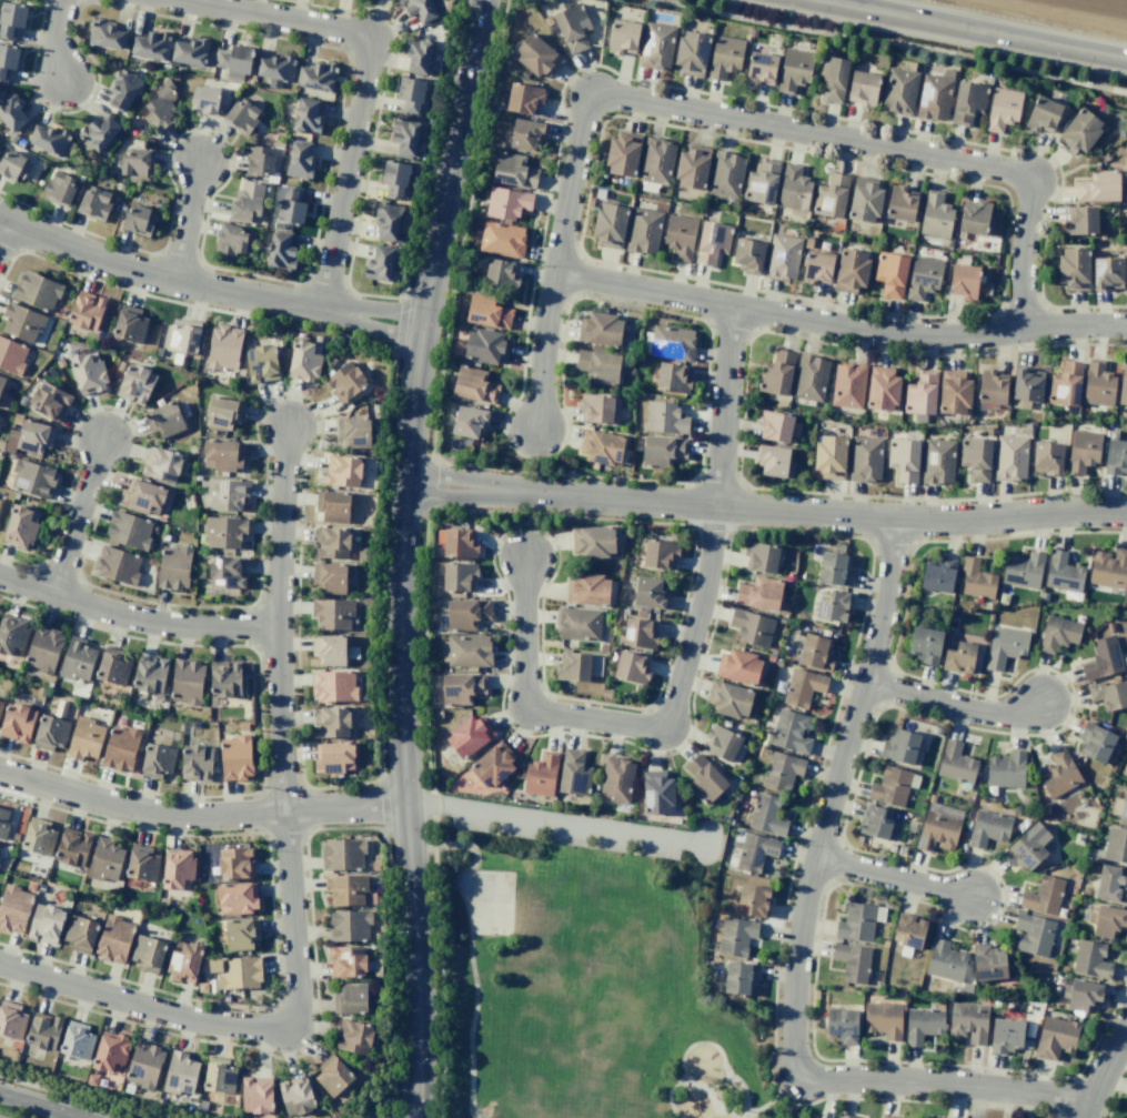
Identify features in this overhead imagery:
road: (320, 6)
crop: (1077, 8)
building: (421, 10)
building: (11, 19)
road: (73, 21)
building: (572, 28)
road: (970, 30)
building: (105, 34)
building: (623, 37)
road: (54, 39)
building: (150, 46)
building: (656, 46)
building: (190, 51)
building: (692, 53)
road: (32, 54)
building: (416, 54)
building: (537, 56)
building: (725, 57)
building: (233, 59)
building: (7, 60)
building: (274, 67)
building: (761, 69)
building: (794, 70)
building: (316, 75)
building: (833, 80)
road: (363, 83)
building: (232, 88)
building: (863, 88)
building: (122, 90)
building: (899, 91)
building: (410, 94)
building: (935, 95)
road: (89, 98)
building: (523, 98)
building: (205, 100)
road: (341, 100)
building: (967, 102)
building: (161, 105)
building: (1003, 109)
building: (11, 111)
building: (1044, 114)
building: (240, 115)
building: (306, 117)
building: (99, 131)
road: (798, 131)
building: (1079, 132)
road: (178, 134)
building: (526, 135)
building: (403, 137)
building: (12, 138)
building: (49, 138)
building: (419, 150)
building: (623, 154)
building: (299, 160)
building: (656, 161)
building: (260, 163)
building: (135, 164)
building: (12, 165)
building: (692, 168)
building: (513, 170)
building: (726, 174)
building: (394, 179)
building: (762, 182)
building: (1098, 187)
building: (794, 188)
building: (59, 189)
road: (213, 191)
building: (832, 195)
building: (865, 200)
building: (245, 201)
building: (93, 203)
building: (506, 203)
building: (900, 203)
building: (289, 204)
building: (936, 215)
building: (974, 218)
building: (138, 220)
building: (386, 221)
building: (1079, 221)
road: (187, 222)
building: (278, 225)
building: (610, 225)
road: (3, 228)
building: (644, 230)
building: (680, 236)
building: (230, 239)
building: (502, 239)
road: (111, 241)
building: (712, 243)
building: (281, 251)
building: (748, 256)
building: (783, 258)
building: (379, 264)
building: (817, 268)
building: (1074, 269)
building: (851, 271)
building: (501, 273)
building: (1107, 273)
building: (890, 274)
building: (924, 276)
road: (168, 280)
building: (964, 281)
building: (36, 290)
road: (365, 294)
road: (373, 310)
building: (85, 311)
building: (486, 311)
building: (21, 321)
road: (409, 323)
building: (129, 324)
road: (371, 325)
road: (838, 326)
building: (600, 329)
building: (182, 338)
building: (316, 339)
road: (382, 345)
building: (485, 346)
building: (222, 348)
road: (546, 349)
building: (157, 351)
building: (11, 355)
building: (303, 360)
building: (329, 361)
building: (261, 362)
building: (59, 363)
building: (598, 366)
building: (88, 373)
building: (777, 373)
building: (672, 377)
building: (811, 377)
building: (1, 382)
building: (343, 382)
building: (1123, 382)
building: (135, 383)
building: (1028, 384)
building: (1066, 384)
building: (1098, 384)
building: (474, 385)
building: (848, 385)
building: (992, 386)
building: (882, 389)
building: (954, 392)
building: (920, 393)
building: (21, 401)
building: (49, 401)
road: (312, 404)
building: (596, 409)
building: (222, 413)
building: (664, 417)
building: (16, 419)
building: (164, 420)
building: (470, 421)
road: (131, 424)
building: (776, 426)
building: (352, 432)
building: (33, 436)
building: (10, 441)
building: (602, 446)
building: (663, 450)
building: (1083, 451)
building: (222, 454)
building: (1116, 456)
building: (828, 457)
building: (1010, 457)
building: (1047, 457)
building: (865, 459)
building: (976, 459)
building: (772, 460)
building: (904, 460)
building: (937, 461)
building: (161, 464)
building: (342, 470)
building: (31, 479)
building: (225, 494)
building: (143, 496)
road: (62, 503)
building: (332, 506)
road: (765, 513)
road: (77, 515)
building: (20, 526)
building: (128, 530)
building: (223, 531)
building: (202, 538)
building: (592, 541)
building: (330, 542)
building: (455, 543)
building: (362, 553)
building: (660, 554)
road: (402, 555)
building: (761, 557)
building: (117, 565)
building: (173, 566)
building: (1108, 568)
building: (835, 570)
building: (1023, 570)
building: (225, 572)
building: (1063, 573)
building: (937, 574)
building: (459, 576)
building: (329, 577)
building: (975, 580)
building: (587, 590)
building: (650, 593)
building: (758, 594)
building: (365, 600)
building: (834, 606)
road: (210, 607)
building: (332, 613)
building: (466, 613)
road: (276, 617)
road: (134, 618)
building: (577, 623)
building: (752, 627)
building: (638, 633)
building: (1058, 633)
building: (11, 635)
building: (925, 645)
building: (1005, 646)
building: (43, 649)
building: (329, 649)
building: (464, 651)
building: (351, 653)
building: (815, 653)
road: (296, 657)
building: (1103, 658)
building: (76, 659)
road: (686, 662)
building: (595, 665)
building: (112, 666)
building: (573, 666)
building: (631, 667)
building: (738, 667)
building: (149, 674)
building: (224, 678)
building: (187, 682)
building: (333, 686)
building: (462, 687)
building: (803, 687)
building: (39, 692)
building: (1108, 695)
building: (729, 699)
building: (0, 704)
road: (954, 708)
building: (330, 721)
building: (18, 722)
building: (119, 722)
road: (260, 722)
building: (243, 726)
building: (51, 728)
building: (791, 732)
building: (470, 735)
building: (84, 738)
building: (721, 743)
building: (1095, 743)
building: (900, 746)
building: (120, 749)
building: (333, 757)
building: (234, 758)
building: (158, 759)
building: (197, 762)
road: (378, 762)
building: (956, 763)
building: (493, 765)
building: (1006, 769)
building: (781, 770)
building: (574, 773)
building: (1058, 773)
building: (540, 775)
building: (704, 778)
building: (616, 780)
building: (890, 786)
building: (656, 793)
road: (381, 805)
road: (423, 805)
building: (1124, 806)
road: (200, 815)
building: (766, 815)
building: (3, 823)
building: (877, 824)
road: (570, 825)
building: (988, 828)
parking lot: (562, 829)
building: (937, 832)
building: (38, 836)
building: (1116, 845)
building: (72, 847)
building: (1027, 848)
building: (755, 852)
building: (342, 855)
building: (104, 859)
building: (141, 863)
building: (234, 863)
building: (374, 865)
building: (177, 869)
road: (895, 880)
building: (1111, 884)
building: (345, 888)
building: (1043, 896)
building: (237, 898)
building: (754, 899)
park: (492, 904)
building: (13, 908)
building: (1107, 920)
road: (310, 921)
building: (858, 921)
building: (44, 923)
building: (348, 925)
road: (272, 926)
building: (908, 930)
building: (79, 933)
building: (240, 934)
building: (1033, 934)
building: (378, 936)
building: (735, 936)
road: (799, 937)
building: (113, 939)
road: (469, 950)
building: (148, 954)
building: (1090, 959)
building: (183, 961)
building: (346, 961)
building: (852, 961)
building: (945, 961)
building: (988, 964)
building: (375, 967)
park: (577, 968)
building: (235, 971)
building: (741, 977)
building: (201, 987)
building: (1081, 996)
building: (351, 997)
building: (11, 1019)
building: (883, 1019)
building: (968, 1021)
building: (922, 1025)
building: (842, 1026)
road: (246, 1027)
building: (42, 1031)
building: (1006, 1035)
building: (353, 1036)
building: (1055, 1037)
building: (77, 1040)
building: (110, 1051)
road: (723, 1062)
building: (143, 1065)
road: (1104, 1070)
building: (180, 1074)
building: (219, 1075)
building: (331, 1075)
building: (91, 1079)
building: (128, 1088)
building: (255, 1095)
building: (294, 1095)
road: (87, 1096)
road: (714, 1102)
building: (201, 1105)
road: (39, 1106)
building: (335, 1110)
building: (844, 1116)
building: (239, 1117)
road: (741, 1117)
building: (885, 1117)

